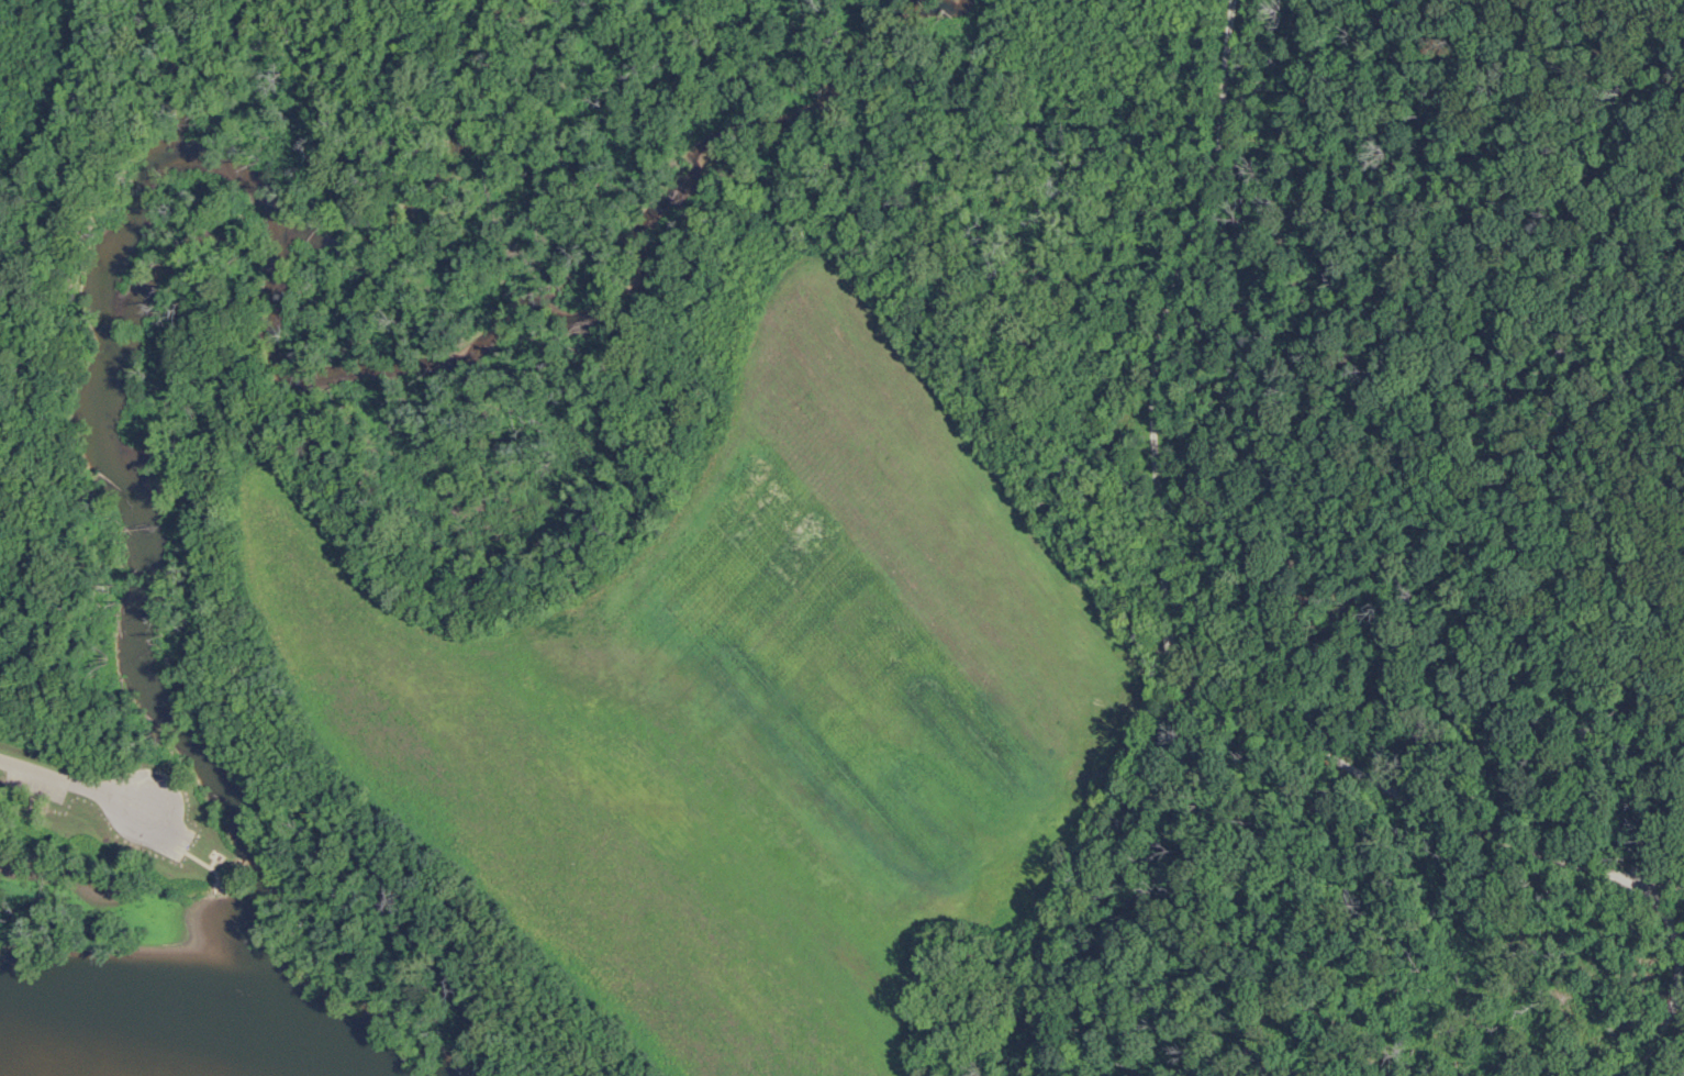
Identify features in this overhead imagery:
road: (68, 786)
river: (63, 1065)

